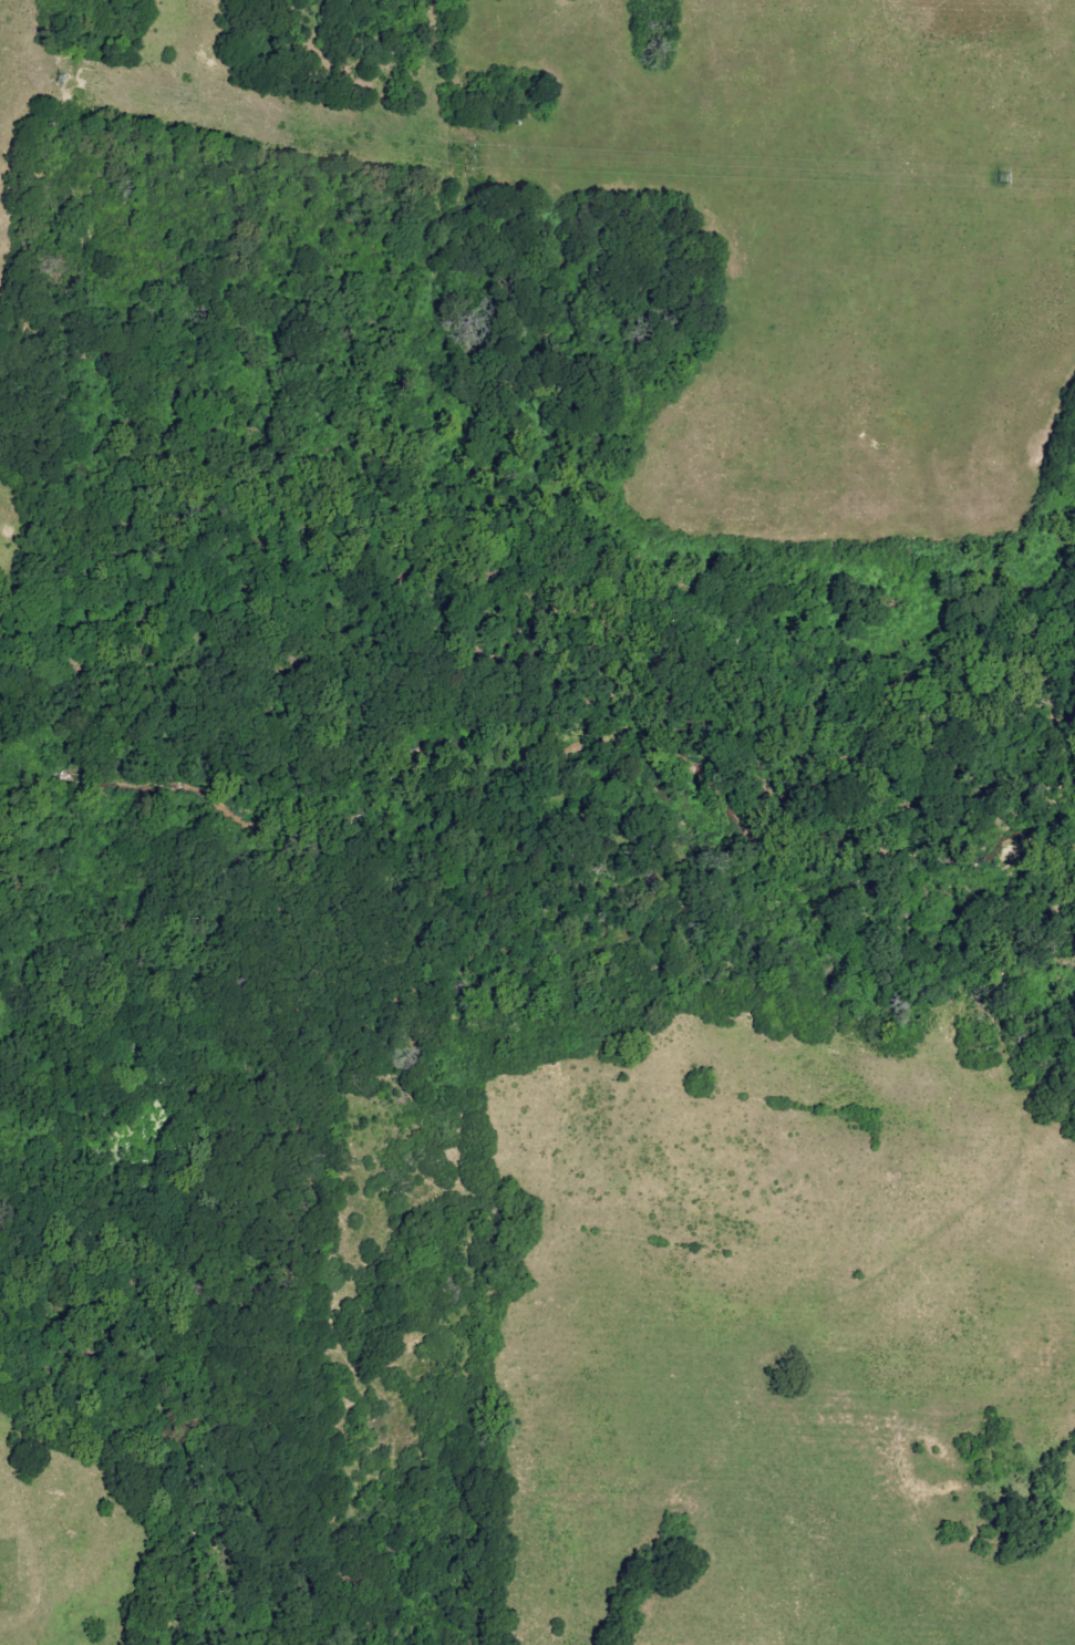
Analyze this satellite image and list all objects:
power tower: (46, 75)
power tower: (458, 155)
power tower: (990, 179)

